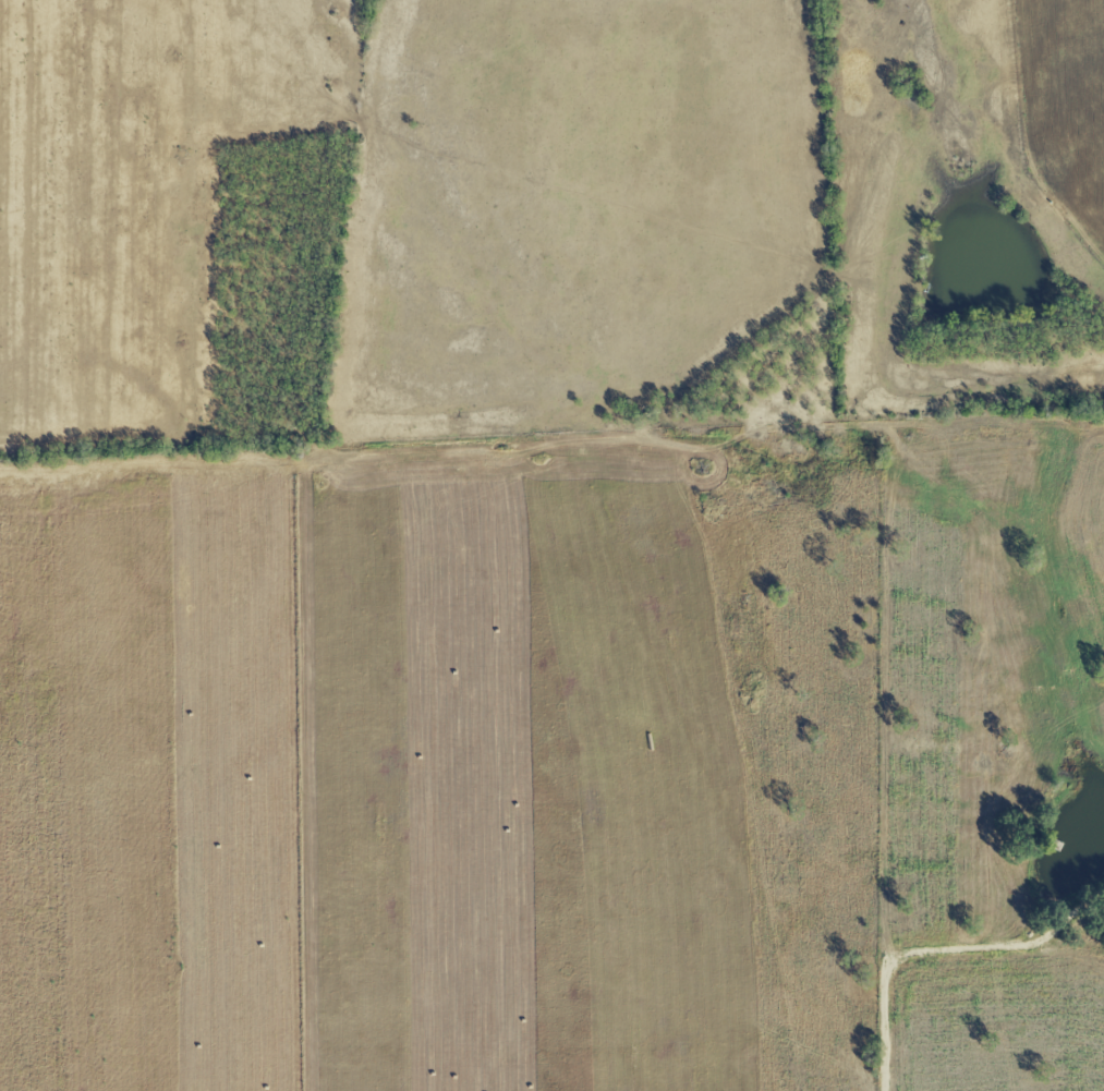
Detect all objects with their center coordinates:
road: (929, 955)

